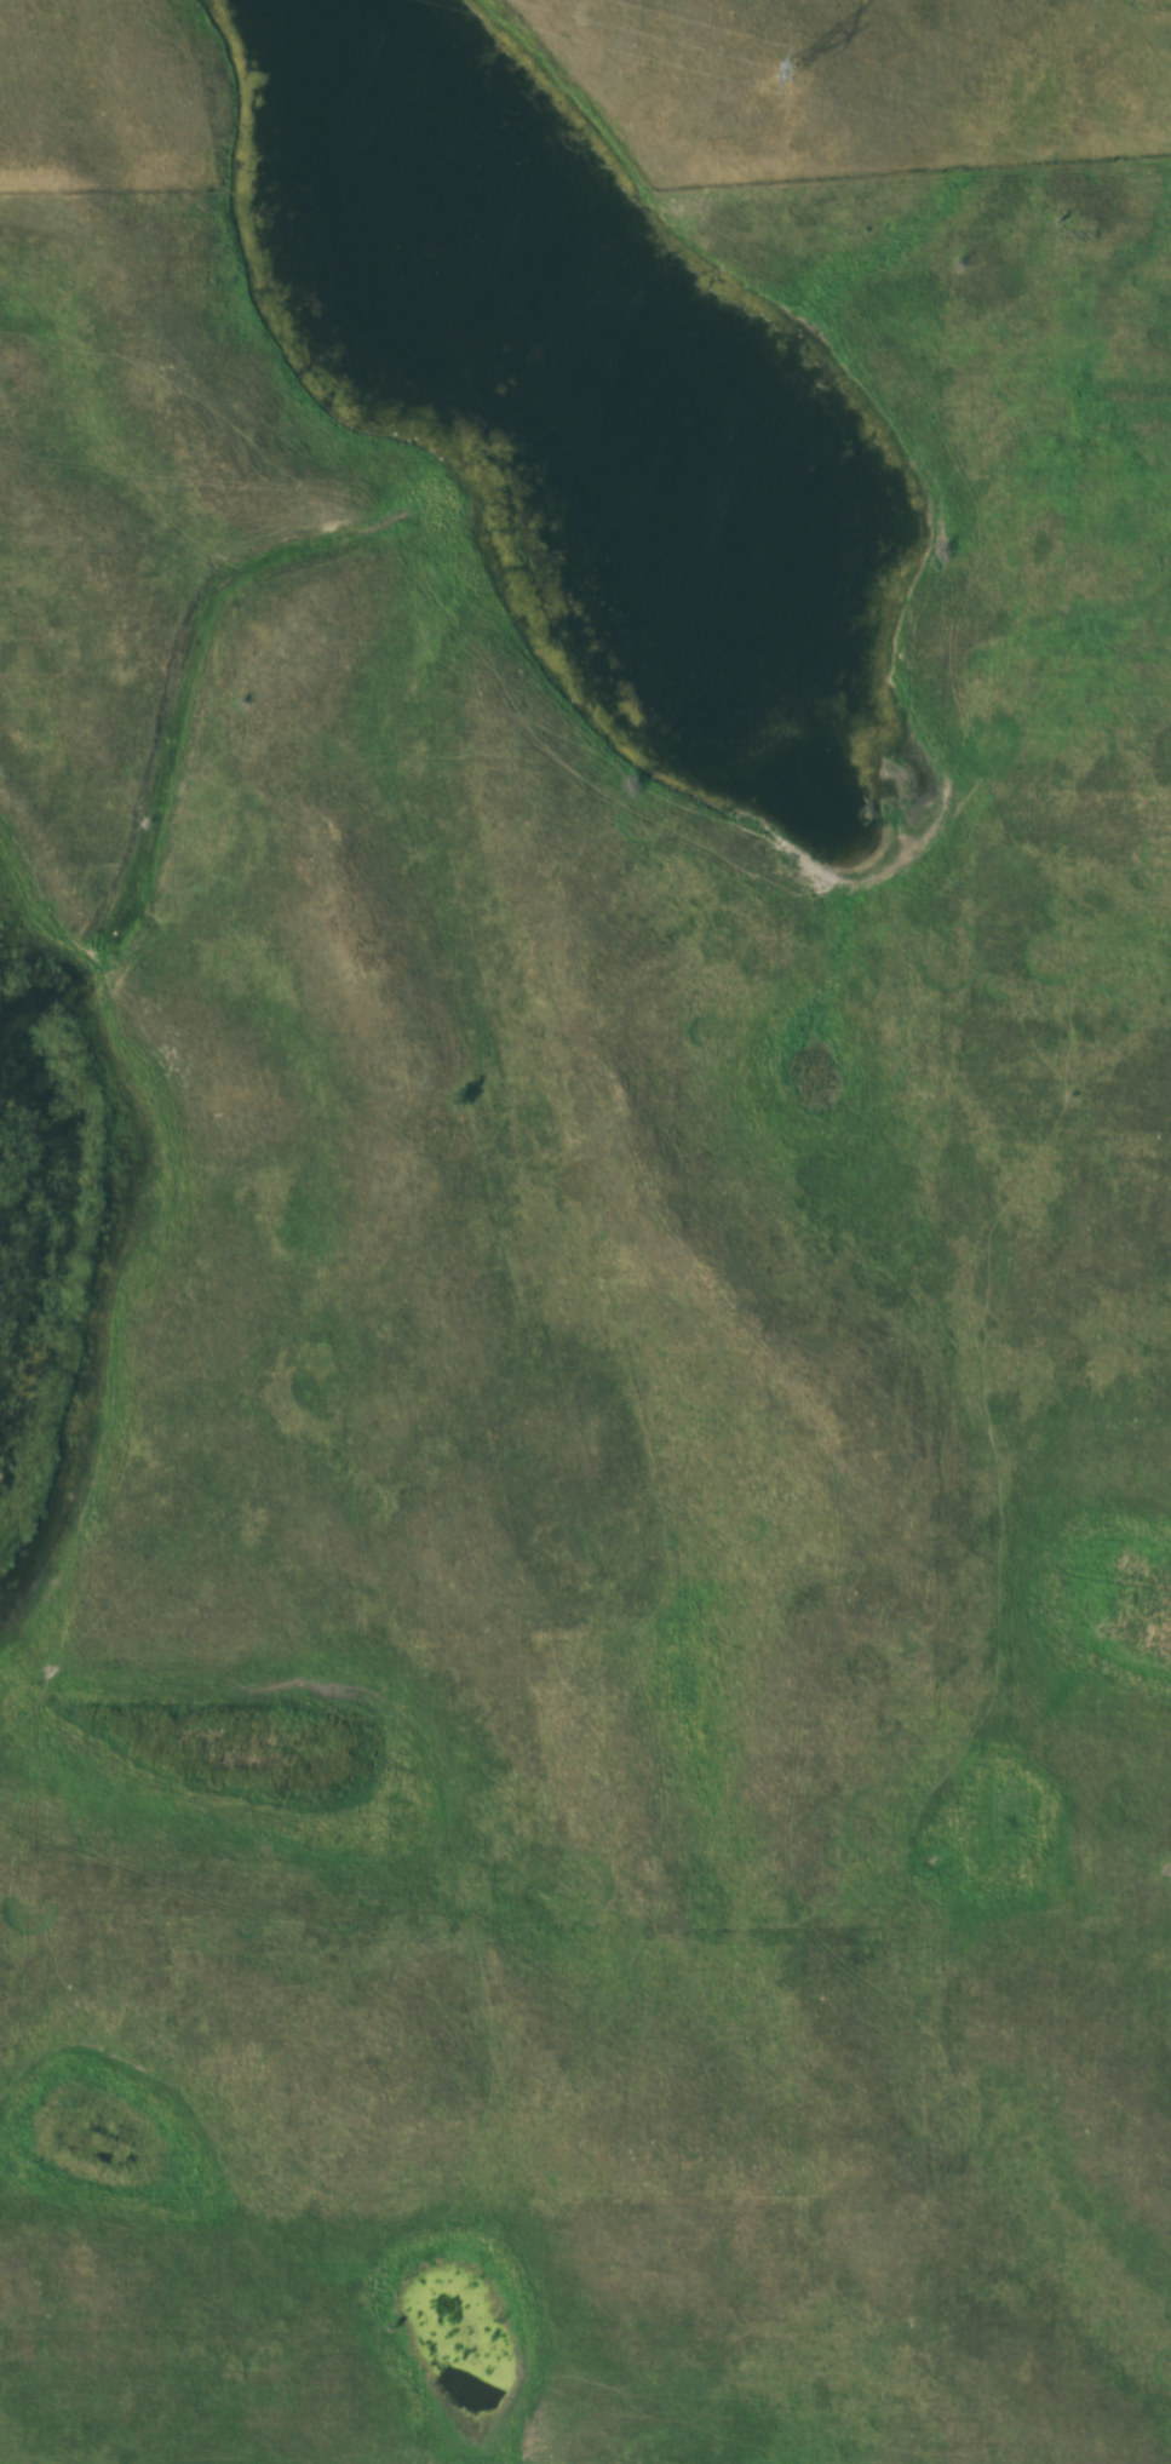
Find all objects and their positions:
power tower: (802, 65)

